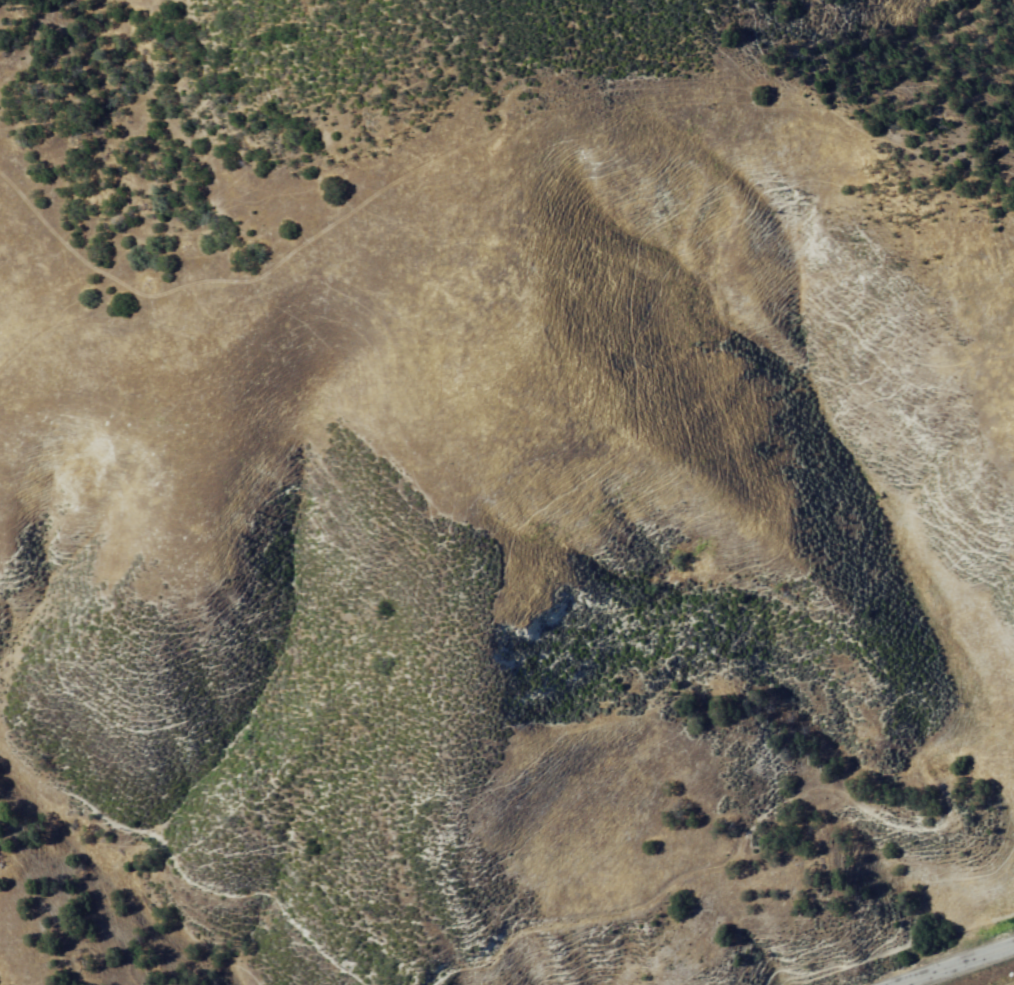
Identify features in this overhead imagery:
road: (957, 965)

